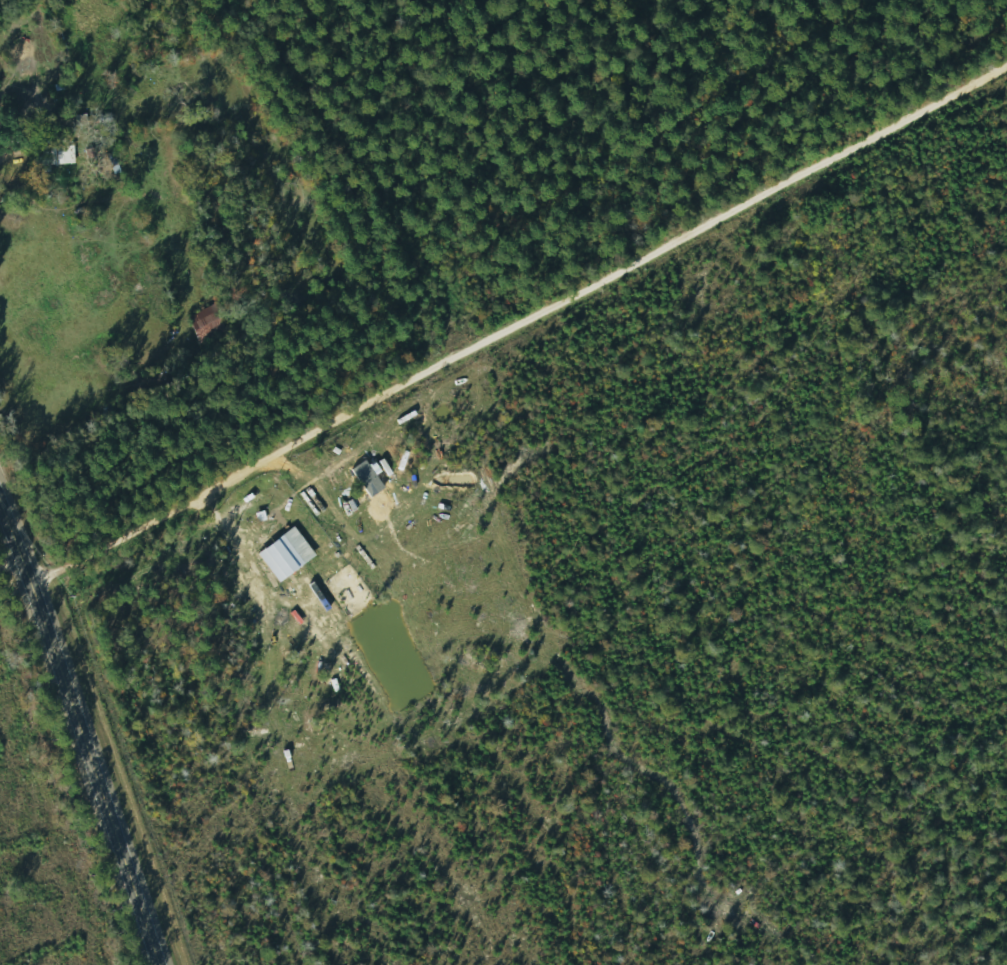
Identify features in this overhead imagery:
road: (8, 148)
building: (58, 155)
building: (207, 325)
road: (504, 328)
road: (82, 733)

